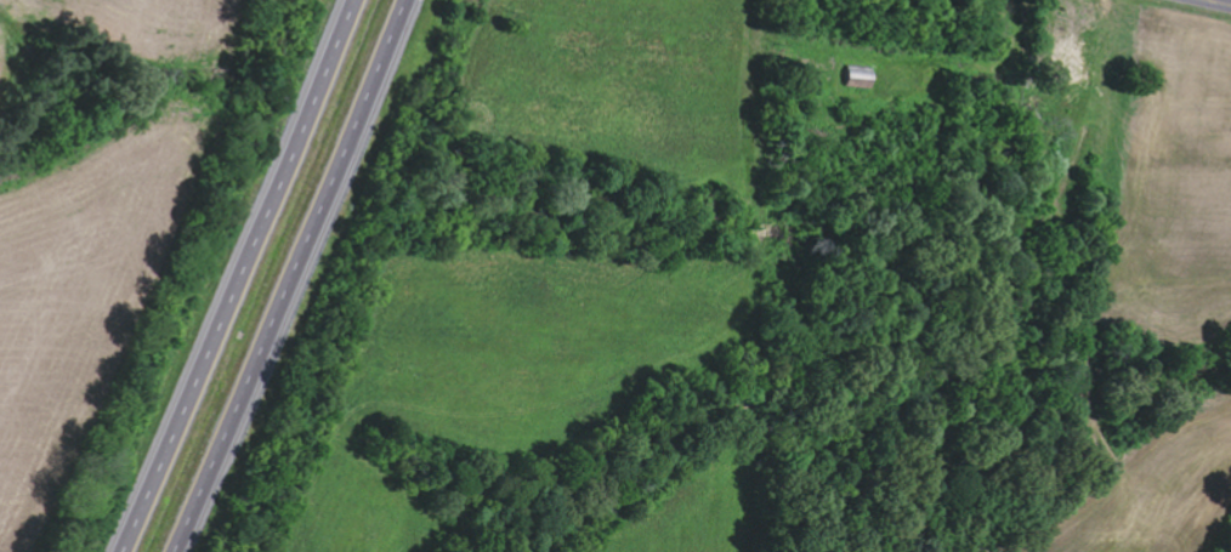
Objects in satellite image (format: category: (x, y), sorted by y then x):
road: (1218, 2)
road: (238, 275)
road: (296, 277)

